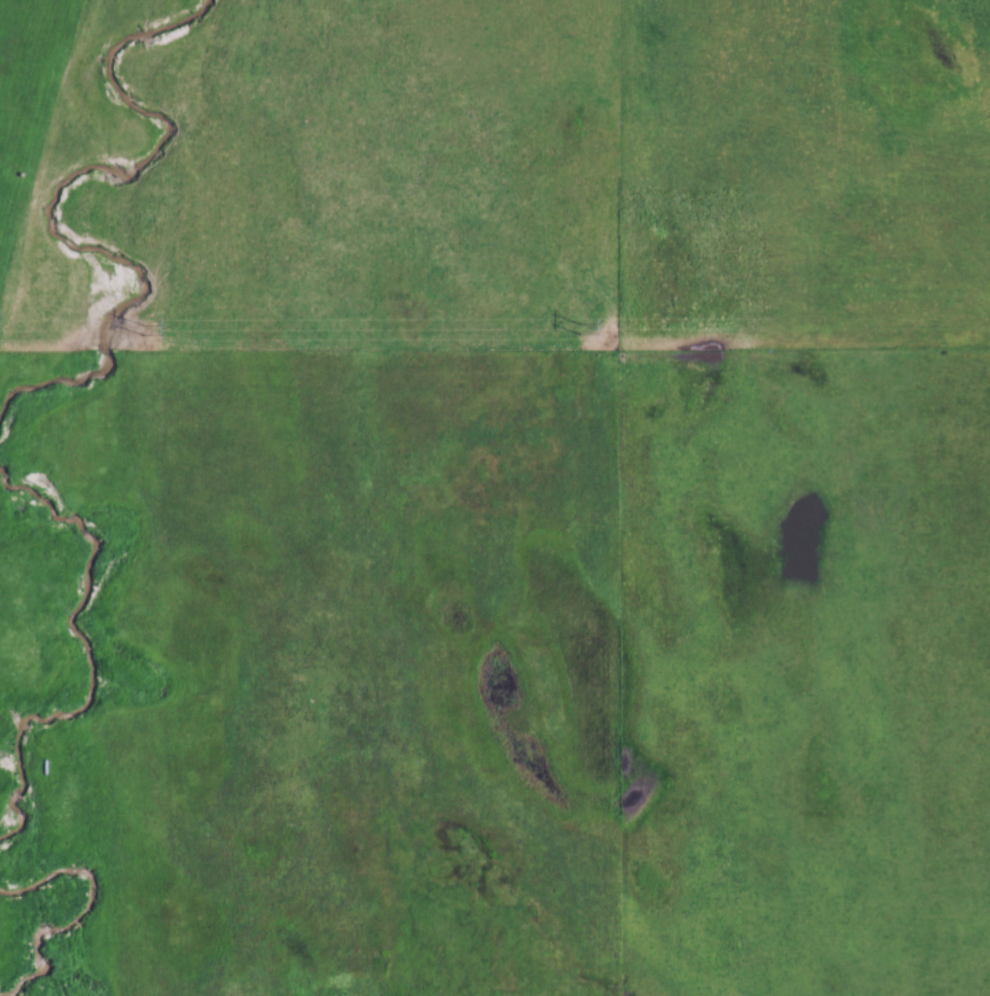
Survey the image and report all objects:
river: (55, 205)
power tower: (143, 331)
power tower: (579, 331)
river: (94, 661)
river: (83, 914)

